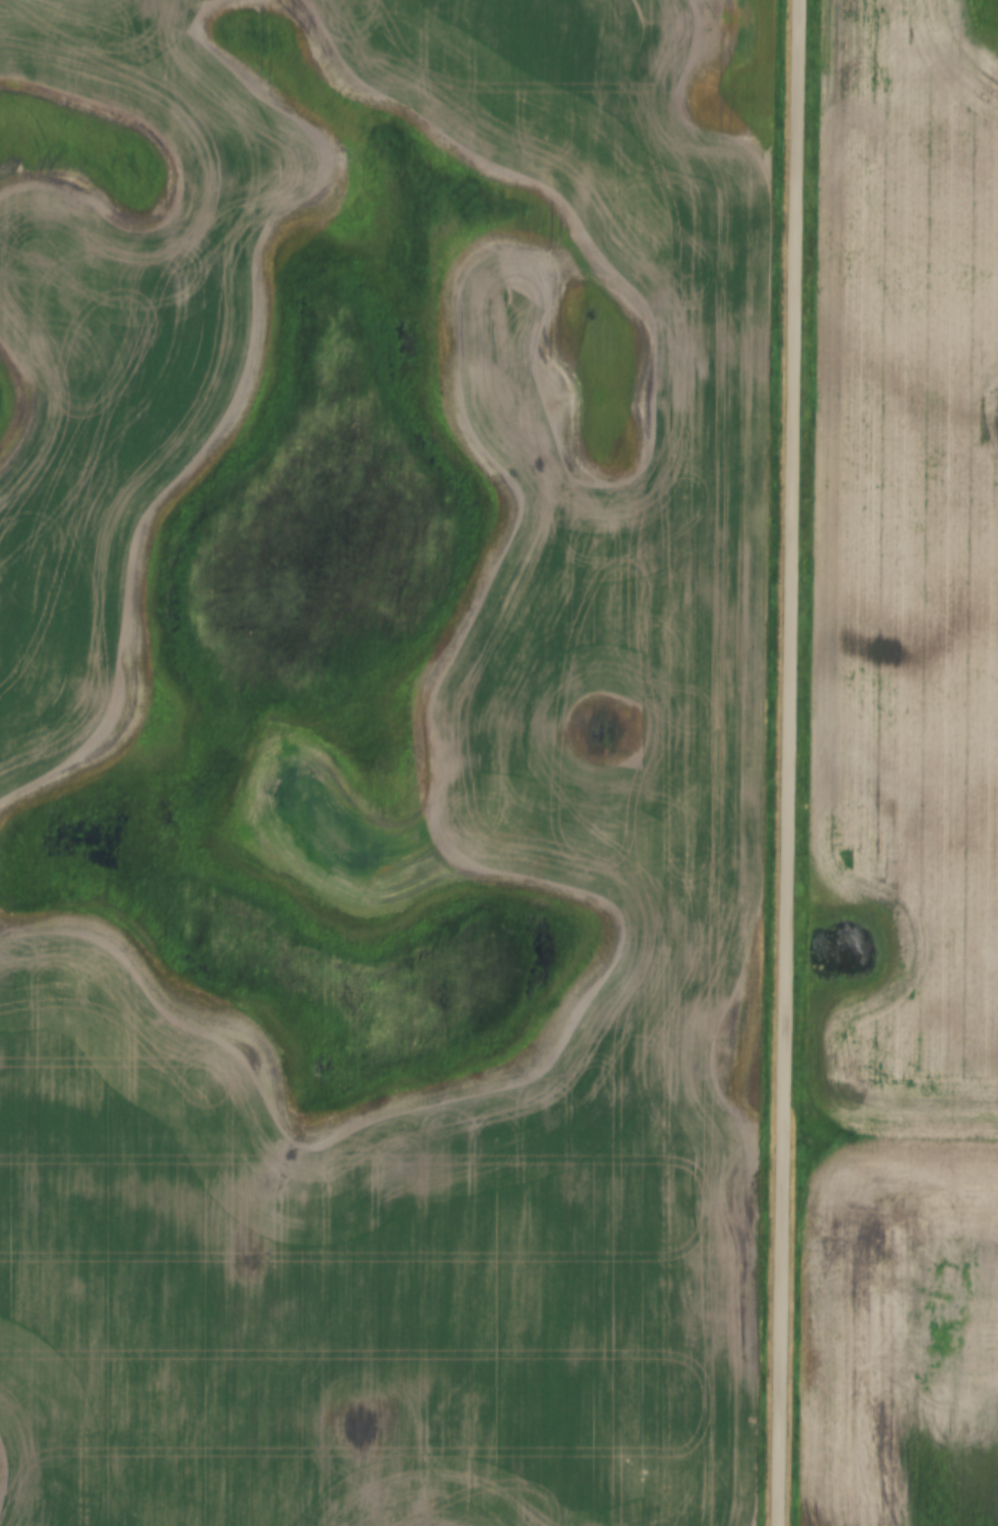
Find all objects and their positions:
road: (784, 762)

